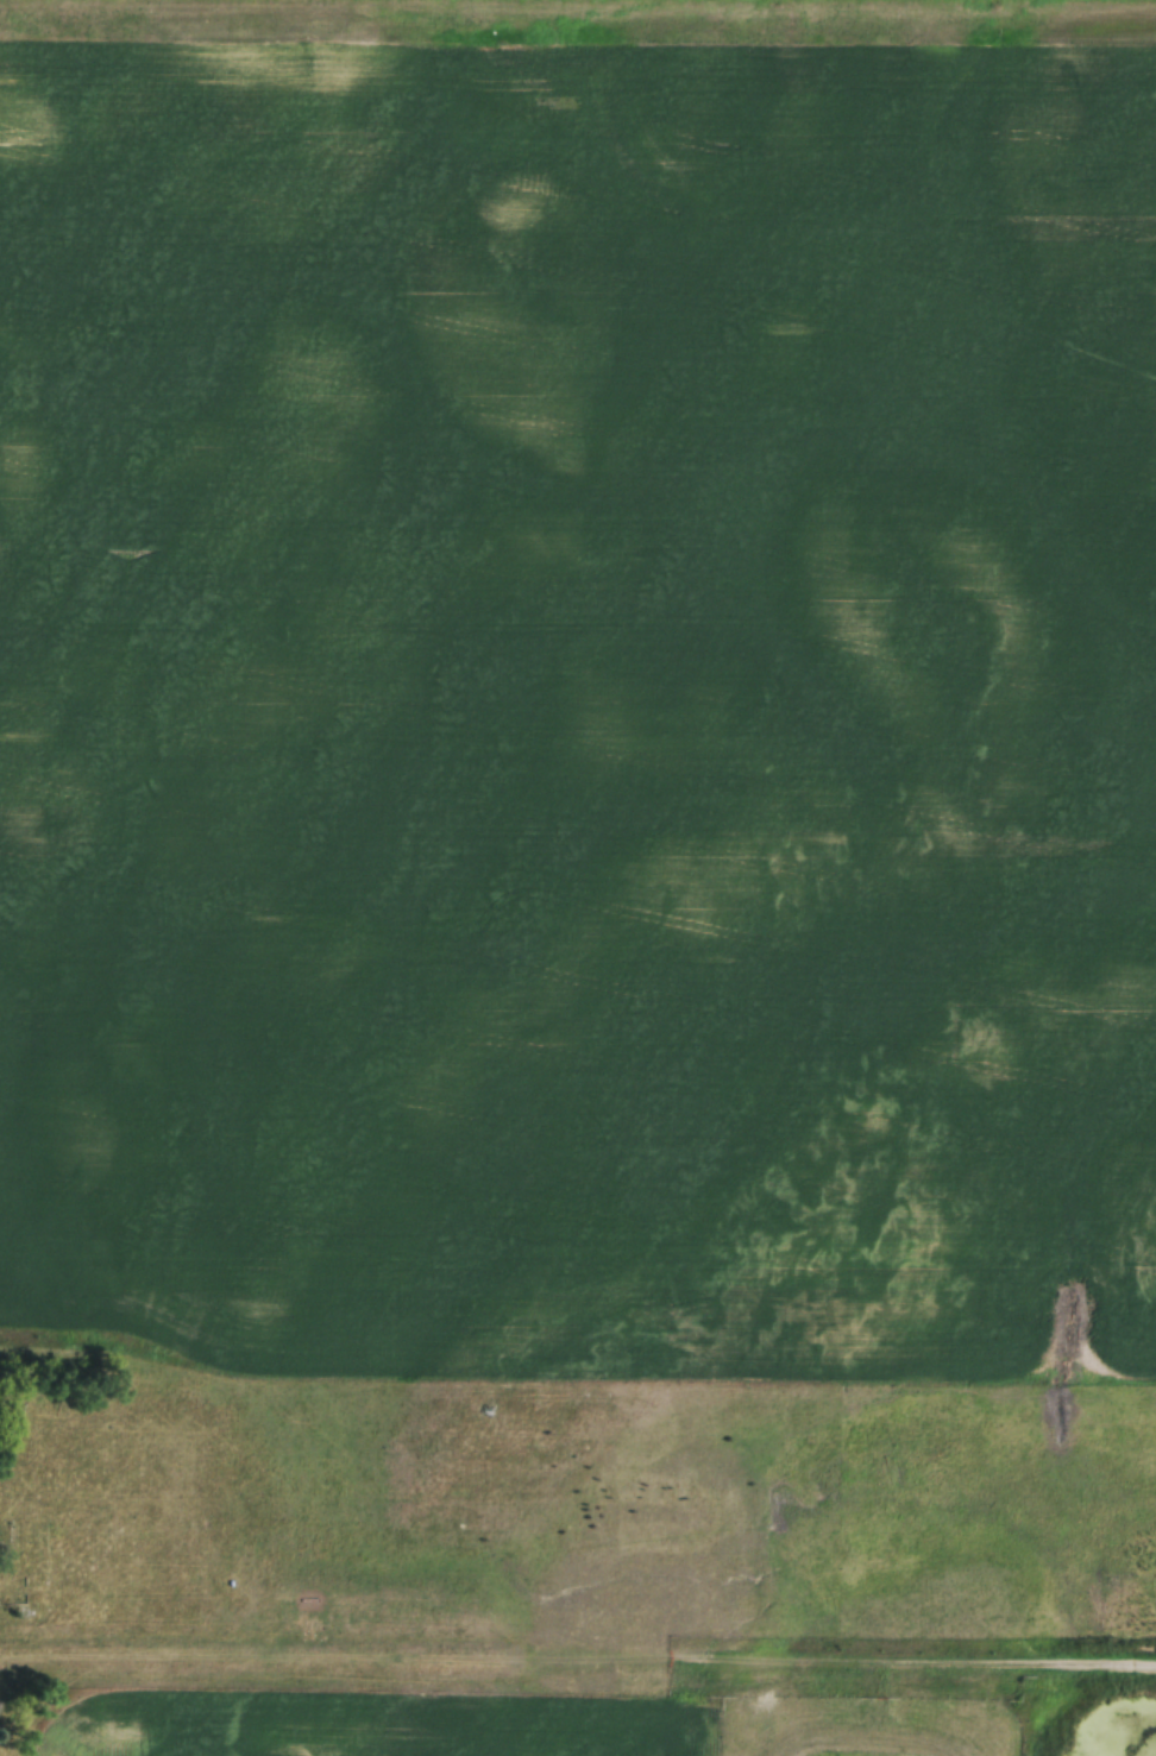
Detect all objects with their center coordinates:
road: (578, 1655)

